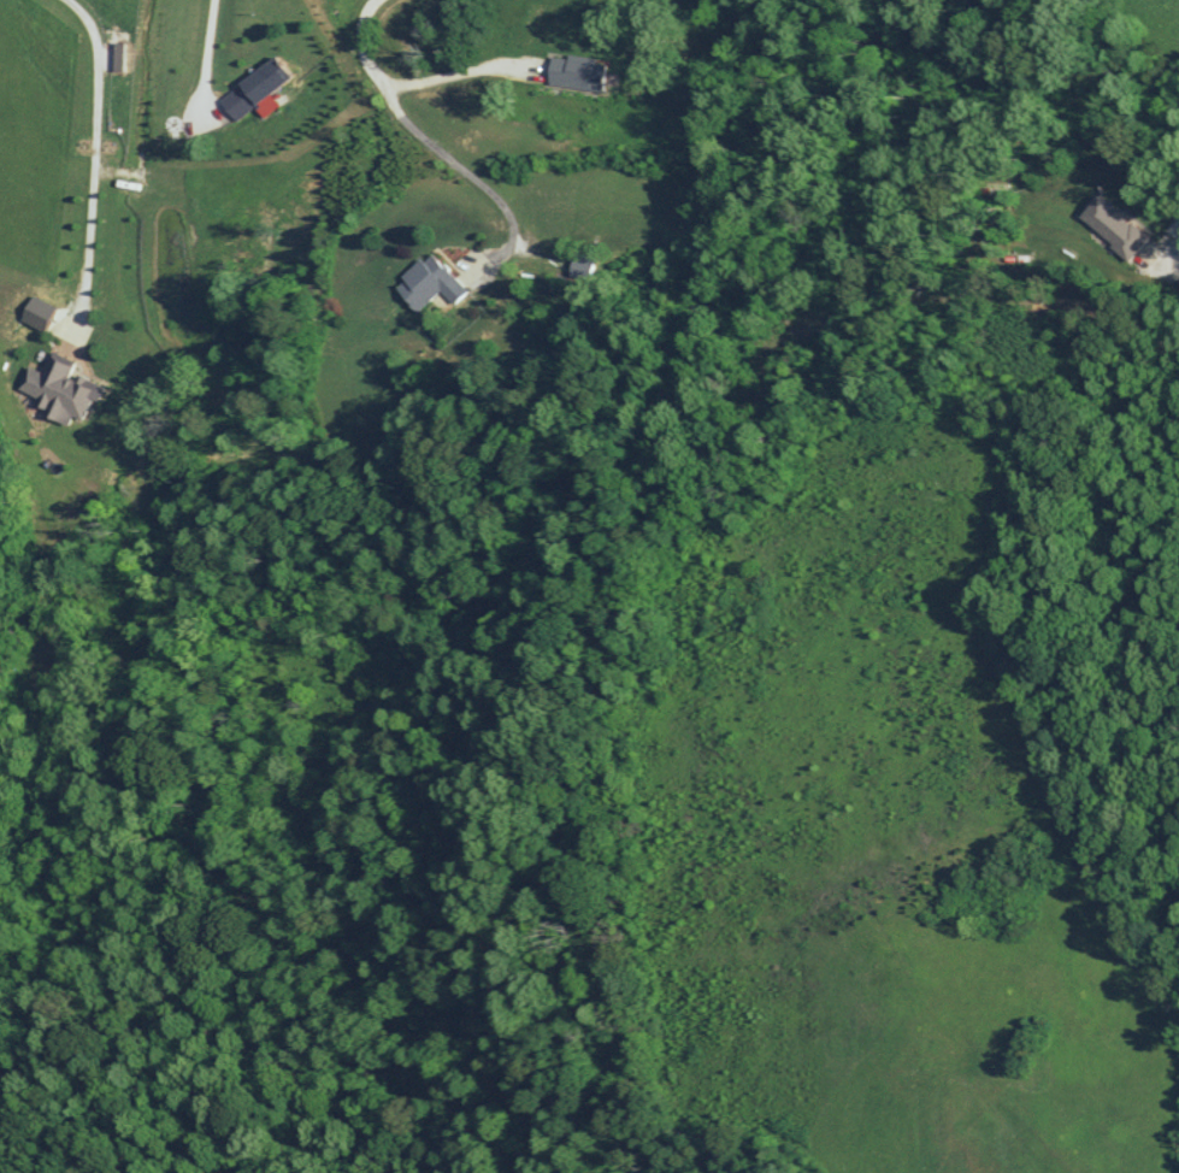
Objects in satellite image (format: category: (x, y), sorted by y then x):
road: (205, 53)
building: (572, 71)
road: (458, 72)
building: (252, 88)
road: (417, 131)
building: (1109, 226)
building: (425, 283)

